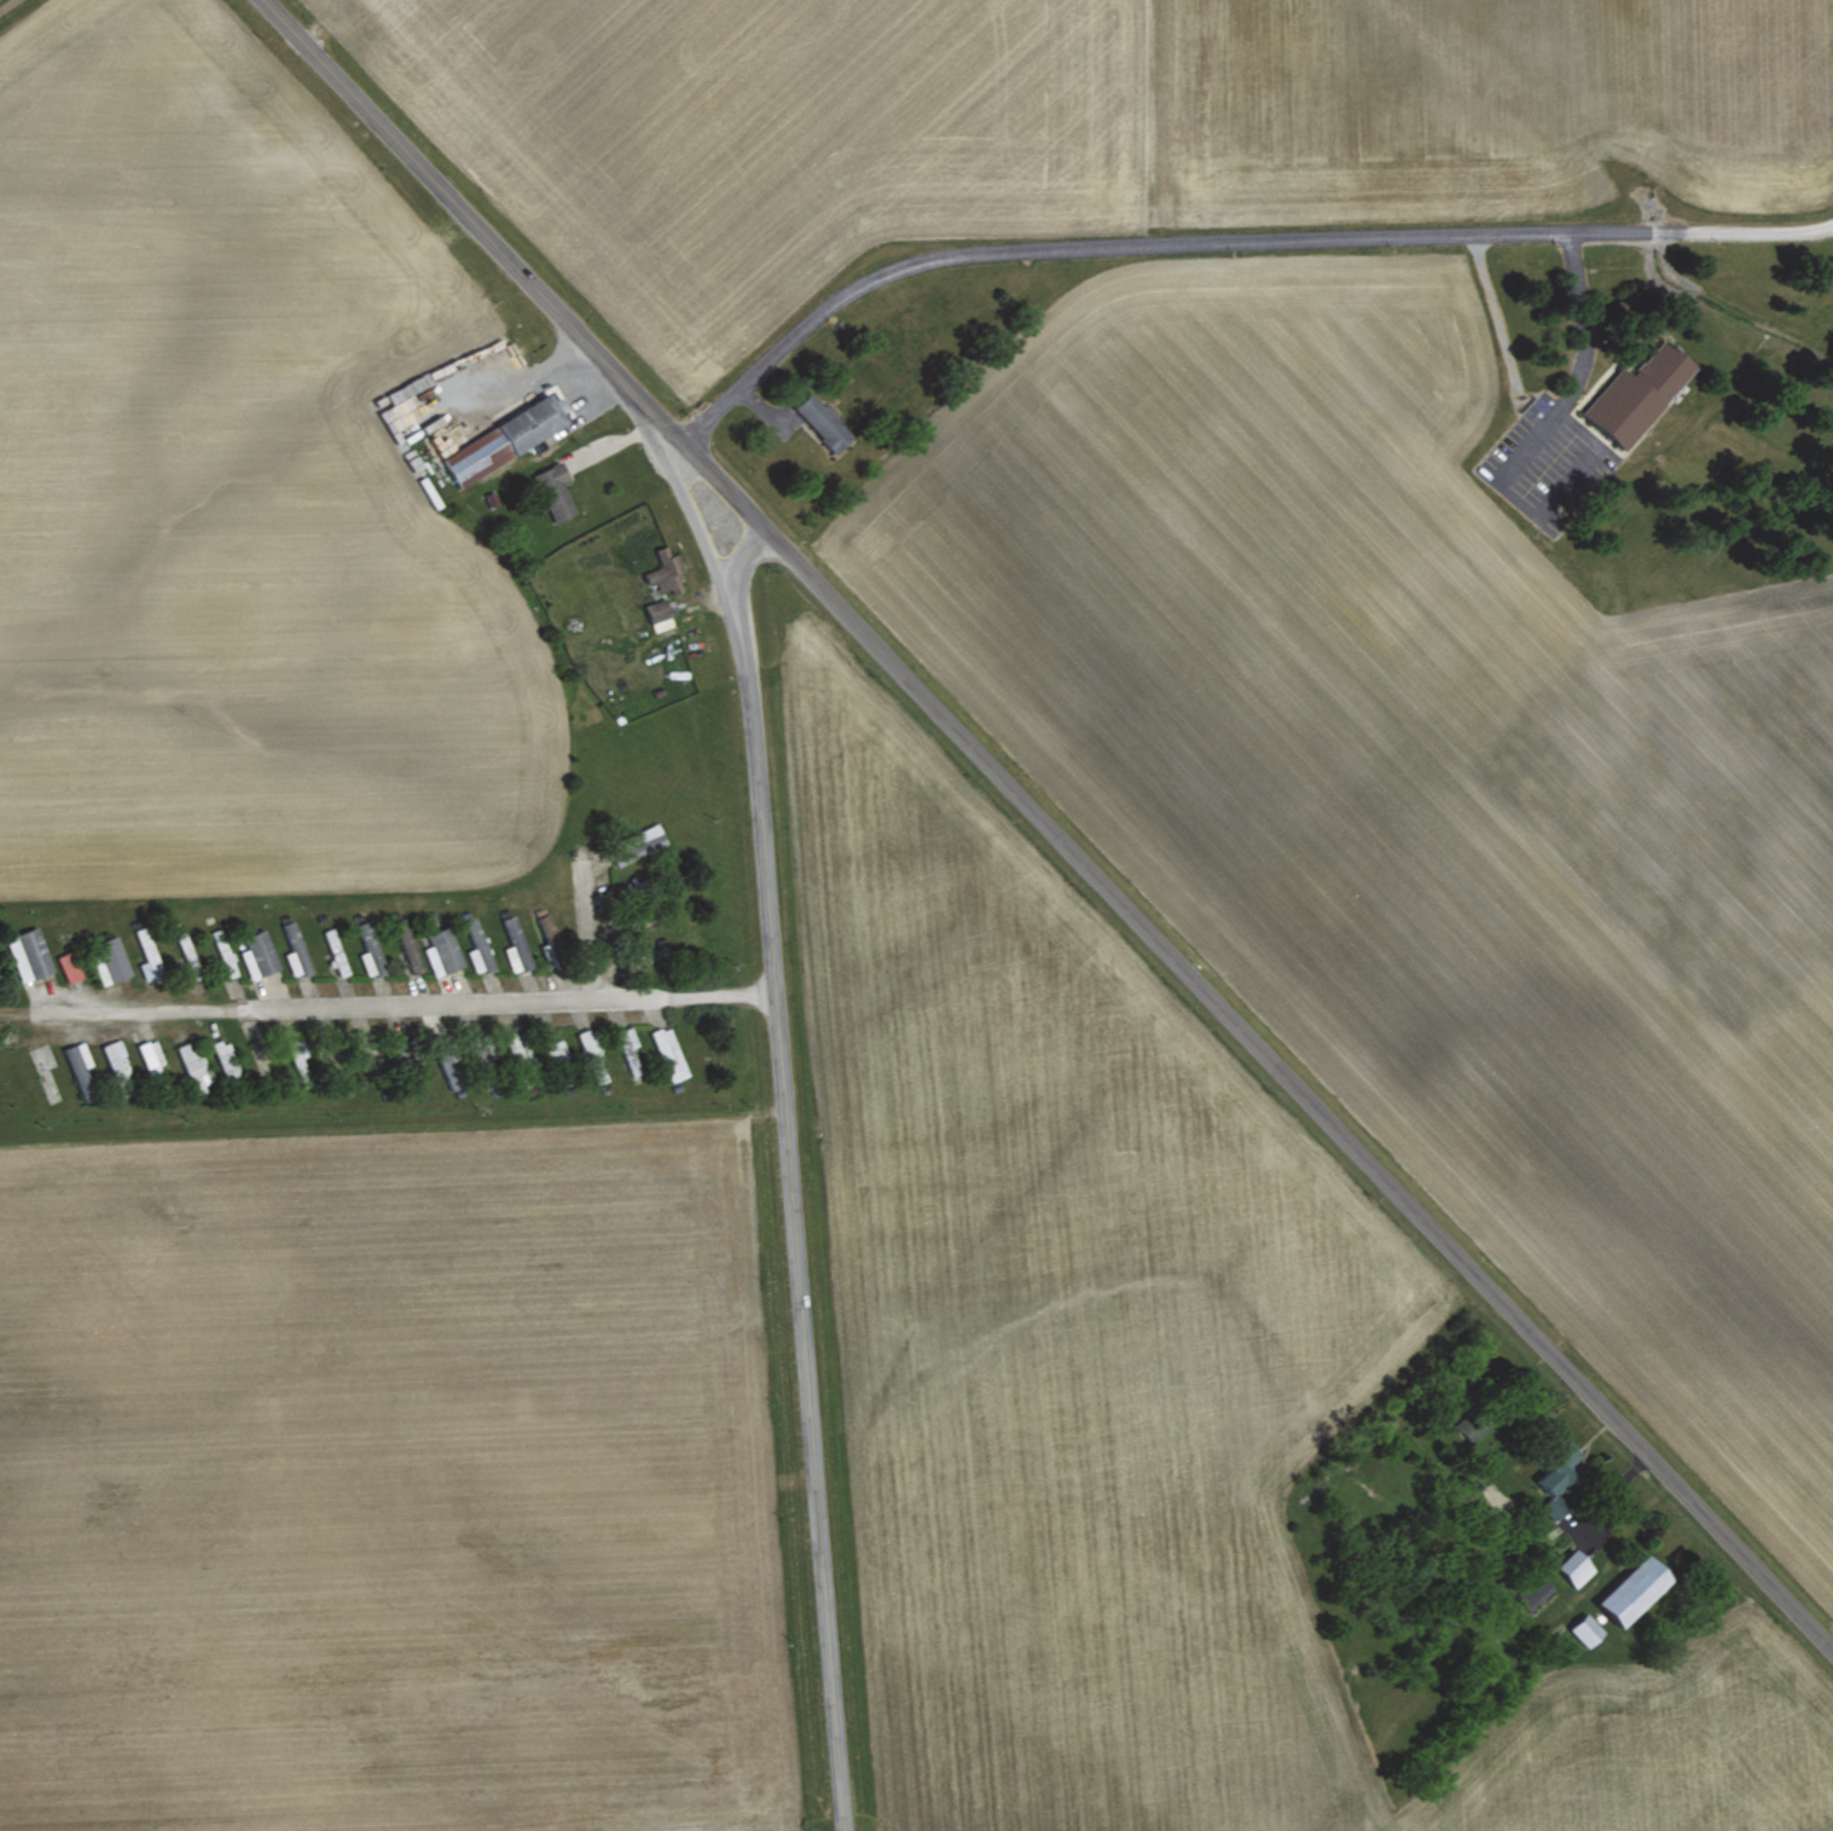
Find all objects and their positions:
road: (1224, 239)
building: (494, 349)
road: (1538, 388)
building: (1636, 392)
building: (405, 396)
building: (822, 419)
building: (506, 435)
building: (441, 440)
building: (555, 488)
road: (742, 551)
building: (663, 569)
building: (657, 613)
road: (1046, 827)
building: (639, 845)
road: (586, 927)
building: (331, 940)
building: (514, 943)
building: (475, 944)
building: (369, 948)
building: (292, 949)
building: (440, 949)
building: (224, 950)
building: (28, 952)
building: (146, 952)
building: (257, 952)
building: (109, 958)
building: (69, 964)
road: (383, 1003)
building: (587, 1039)
building: (627, 1047)
building: (668, 1051)
building: (150, 1054)
building: (226, 1060)
building: (193, 1065)
building: (79, 1066)
road: (779, 1129)
building: (1469, 1422)
building: (1555, 1482)
building: (1574, 1565)
building: (1635, 1588)
building: (1585, 1629)

